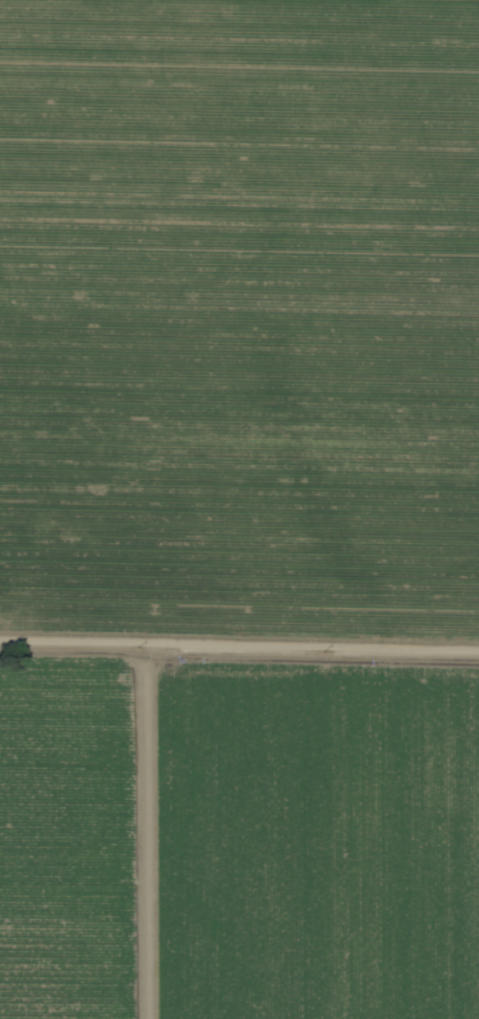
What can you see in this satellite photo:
road: (239, 644)

